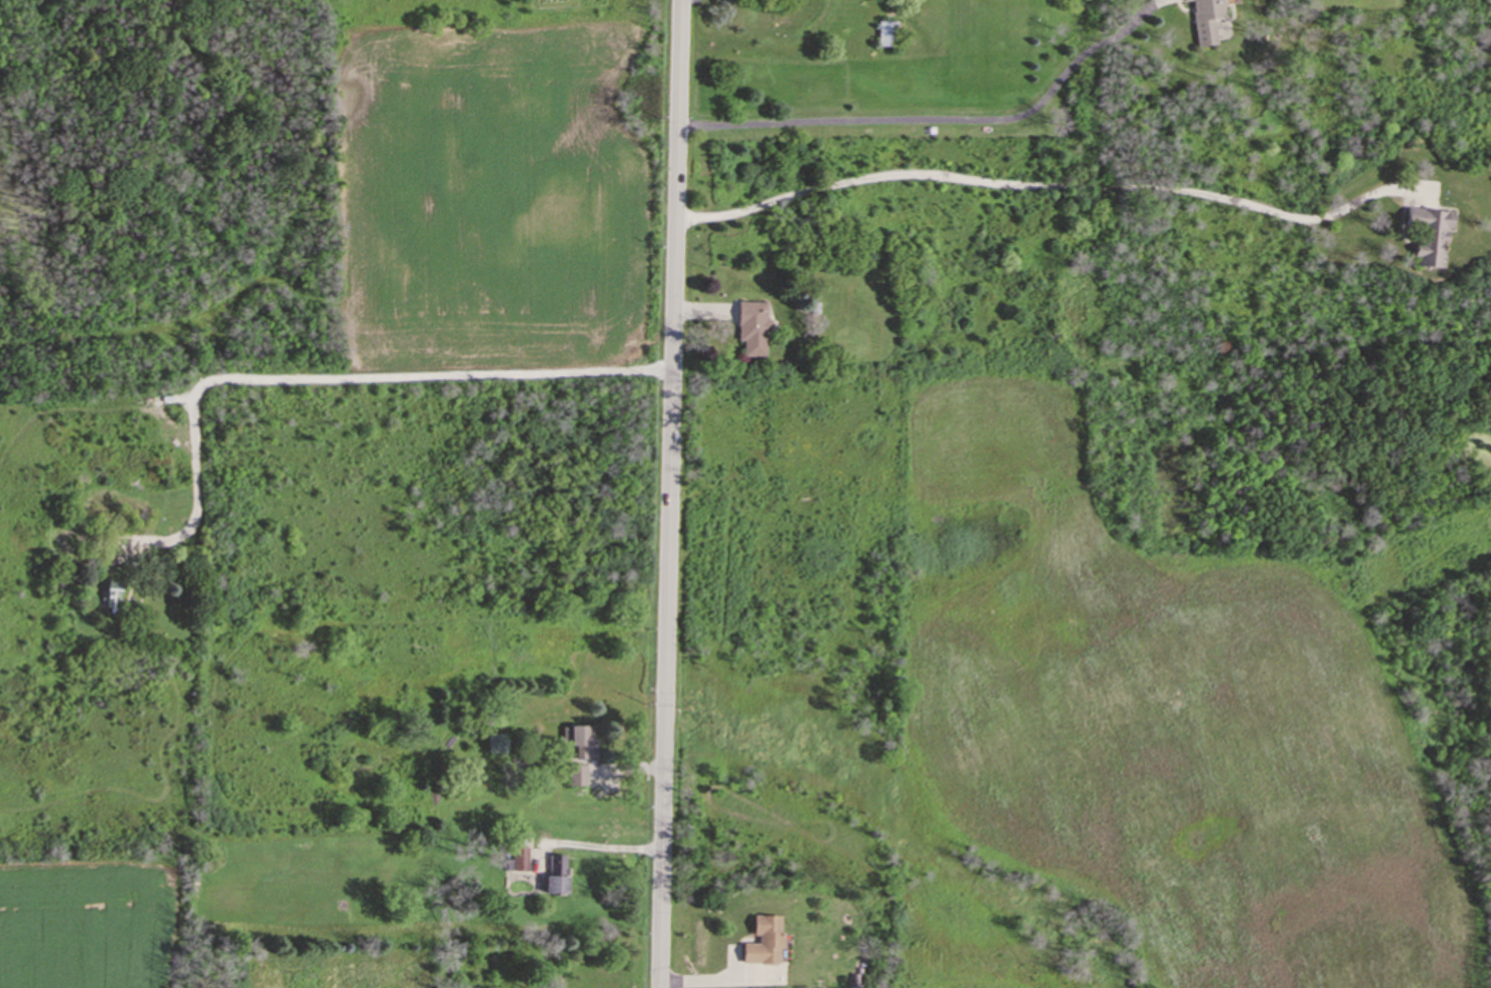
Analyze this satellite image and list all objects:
building: (1183, 0)
building: (1205, 19)
building: (884, 31)
road: (941, 116)
road: (1044, 183)
crop: (494, 192)
building: (1428, 233)
building: (750, 327)
road: (334, 377)
road: (668, 493)
building: (110, 596)
building: (578, 737)
crop: (1133, 737)
building: (495, 741)
building: (576, 774)
building: (518, 858)
building: (555, 874)
crop: (92, 928)
building: (762, 940)
road: (717, 978)

